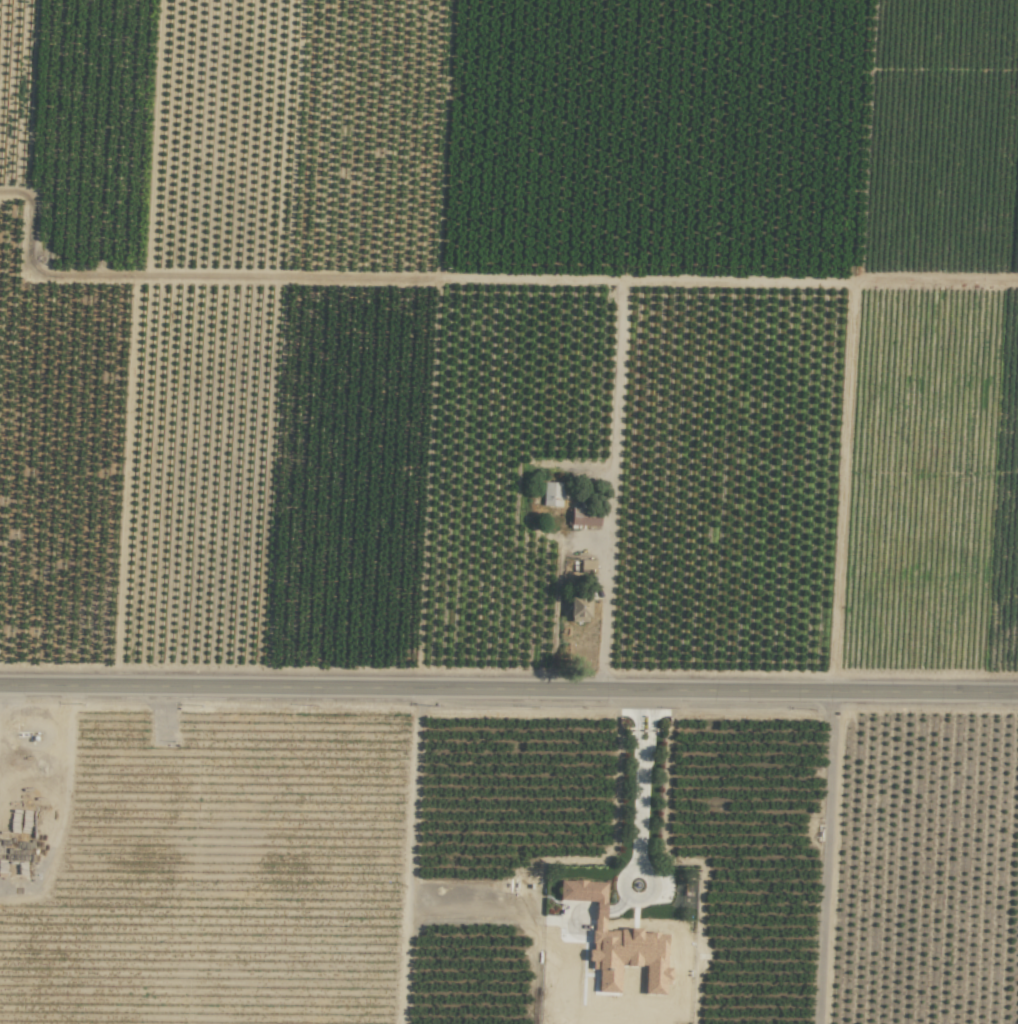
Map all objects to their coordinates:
road: (611, 485)
building: (551, 493)
building: (586, 564)
building: (579, 608)
road: (509, 690)
road: (641, 792)
road: (64, 805)
building: (583, 891)

